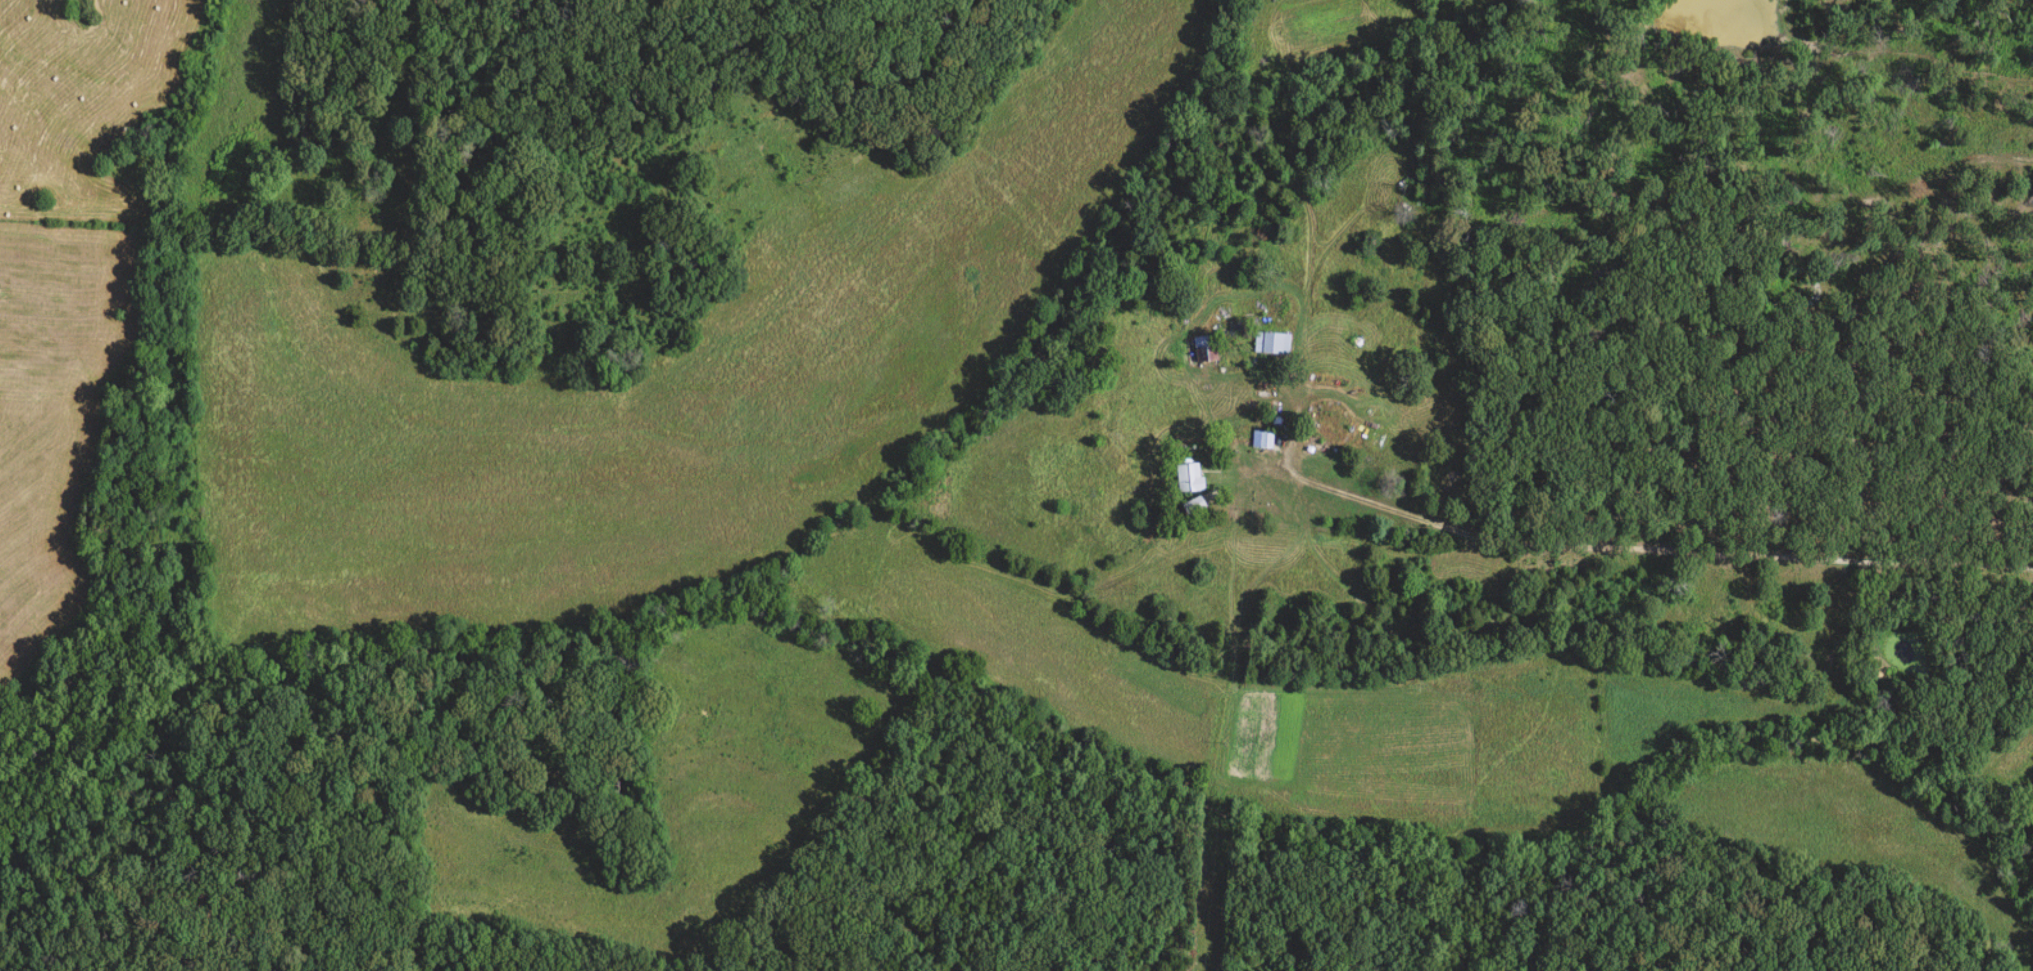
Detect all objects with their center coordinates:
building: (1268, 343)
building: (1204, 351)
crop: (58, 417)
building: (1262, 440)
building: (1185, 478)
road: (1644, 549)

